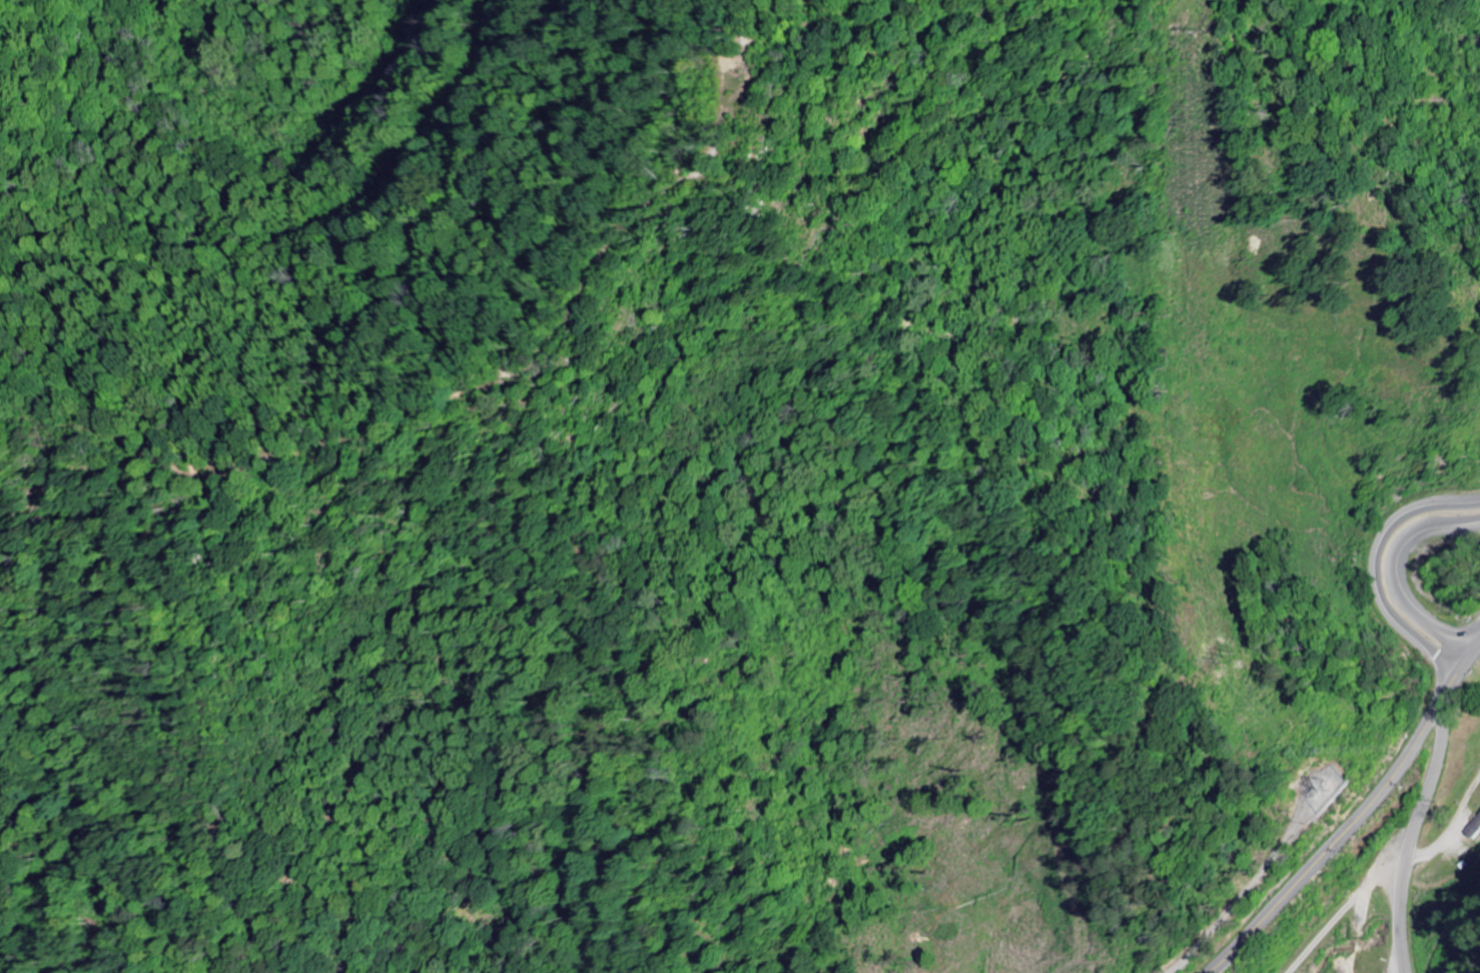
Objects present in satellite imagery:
road: (1372, 567)
road: (1393, 574)
power tower: (1236, 654)
road: (1427, 788)
road: (1355, 819)
road: (1339, 913)
road: (1400, 923)
road: (1357, 927)
road: (1348, 966)

